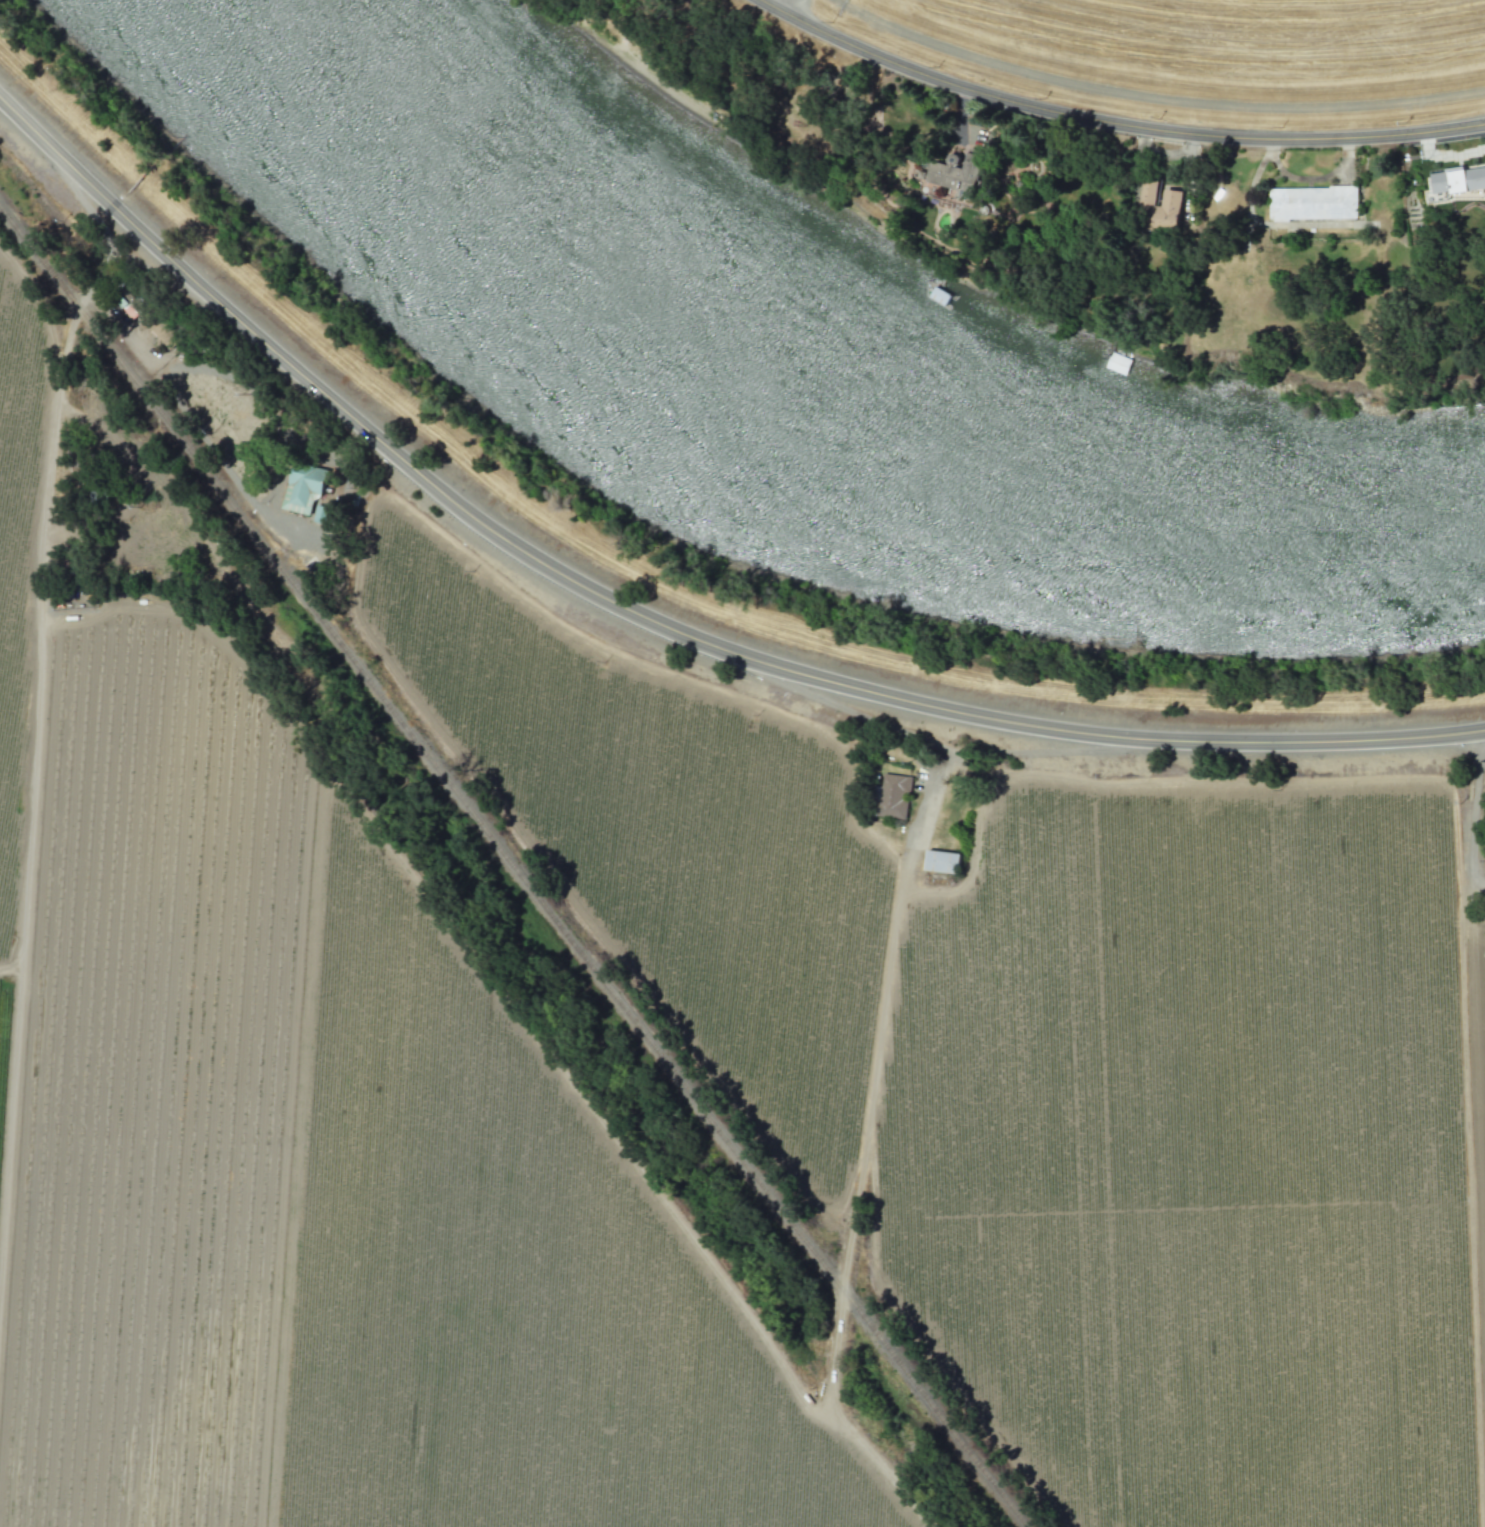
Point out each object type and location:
road: (1112, 123)
building: (956, 174)
building: (1457, 179)
building: (1171, 198)
building: (1313, 203)
building: (130, 305)
road: (54, 398)
river: (820, 434)
building: (303, 487)
building: (321, 514)
road: (658, 625)
road: (936, 789)
building: (892, 795)
road: (1476, 843)
building: (941, 861)
railway: (517, 864)
crop: (670, 1003)
road: (857, 1203)

